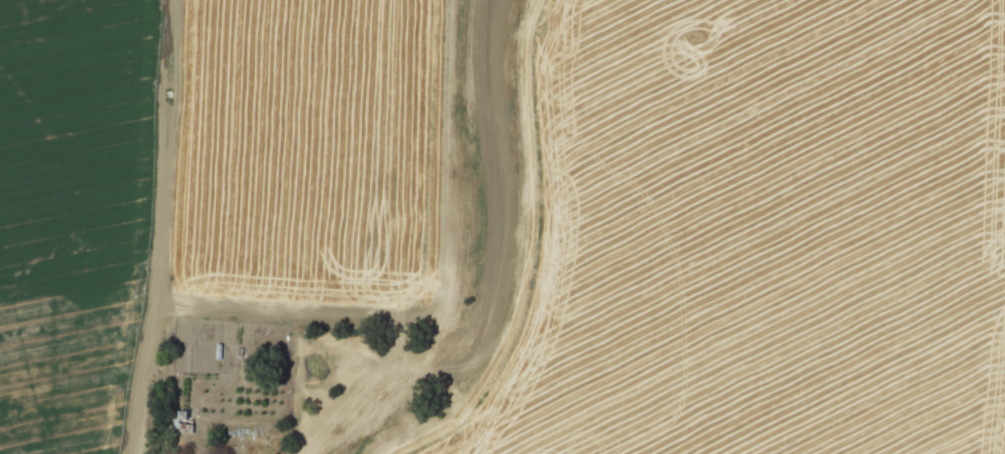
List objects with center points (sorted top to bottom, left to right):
crop: (300, 147)
crop: (72, 213)
road: (158, 228)
crop: (764, 232)
road: (527, 249)

